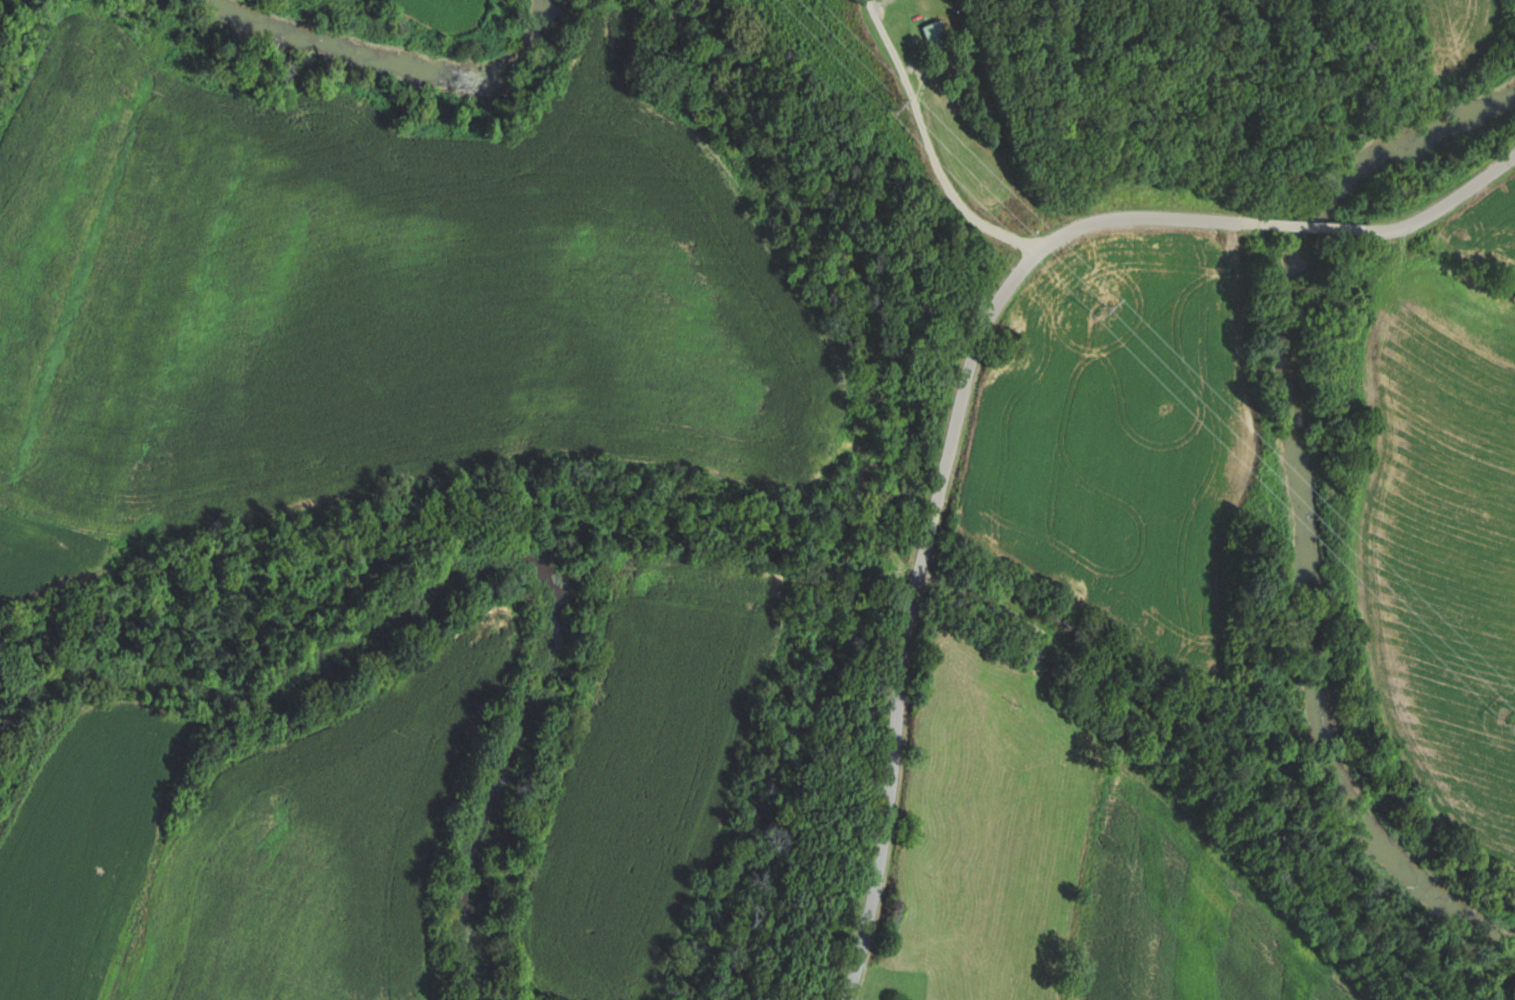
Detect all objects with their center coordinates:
building: (935, 35)
power tower: (893, 104)
road: (930, 145)
road: (1442, 202)
road: (1302, 224)
power tower: (1102, 309)
road: (934, 510)
power tower: (1507, 712)

